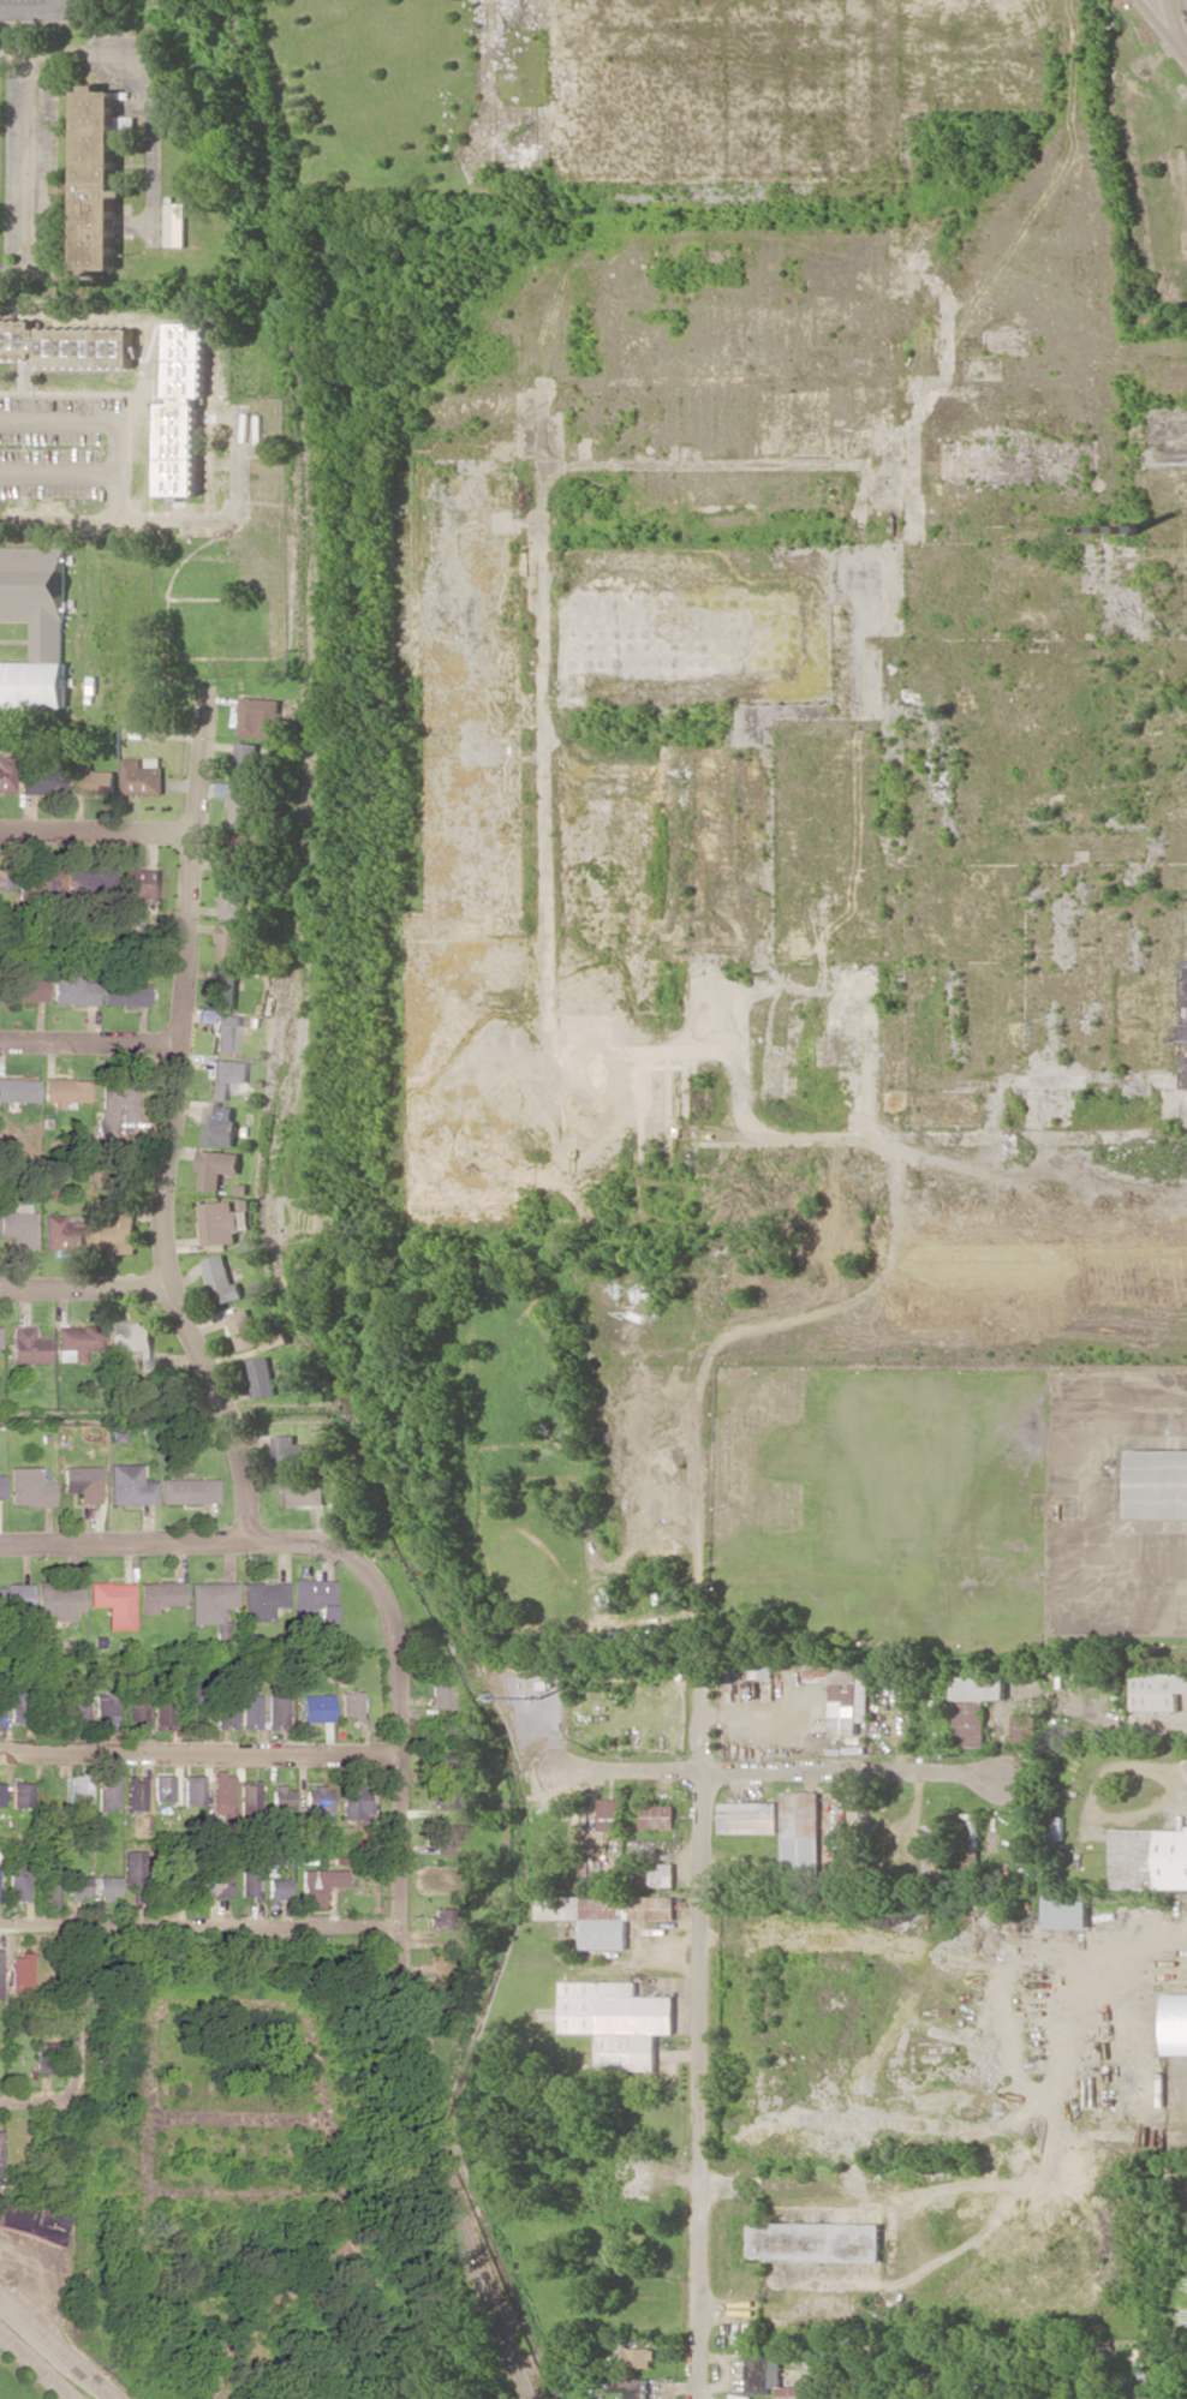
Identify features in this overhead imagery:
road: (1181, 12)
road: (36, 14)
road: (1162, 26)
road: (143, 82)
road: (31, 168)
building: (101, 175)
building: (177, 223)
building: (66, 345)
building: (184, 408)
road: (107, 423)
road: (60, 475)
road: (168, 527)
building: (32, 625)
building: (260, 717)
building: (775, 718)
building: (247, 762)
building: (6, 772)
building: (143, 775)
building: (91, 777)
building: (42, 780)
building: (243, 807)
road: (96, 830)
building: (239, 852)
building: (2, 881)
building: (141, 883)
building: (235, 897)
building: (231, 942)
building: (72, 987)
building: (228, 987)
building: (22, 989)
building: (124, 992)
road: (730, 1007)
building: (225, 1031)
road: (87, 1048)
building: (226, 1076)
building: (18, 1090)
building: (115, 1106)
road: (171, 1123)
building: (220, 1124)
road: (1032, 1133)
building: (217, 1166)
building: (222, 1222)
building: (18, 1225)
building: (119, 1231)
building: (60, 1233)
building: (222, 1279)
road: (85, 1287)
building: (244, 1329)
building: (133, 1341)
building: (76, 1342)
building: (28, 1345)
building: (262, 1377)
building: (286, 1449)
building: (82, 1482)
building: (1158, 1482)
building: (129, 1485)
building: (0, 1486)
building: (28, 1487)
building: (186, 1490)
building: (302, 1493)
building: (159, 1595)
building: (14, 1597)
building: (311, 1598)
building: (260, 1599)
building: (58, 1600)
building: (208, 1601)
building: (113, 1603)
building: (756, 1671)
building: (1159, 1690)
building: (439, 1695)
building: (849, 1699)
building: (192, 1703)
building: (222, 1705)
building: (348, 1705)
building: (16, 1706)
building: (976, 1706)
building: (315, 1707)
building: (102, 1708)
building: (135, 1708)
building: (162, 1708)
building: (76, 1711)
building: (249, 1711)
building: (274, 1712)
building: (0, 1715)
building: (457, 1726)
building: (1025, 1727)
road: (199, 1750)
building: (447, 1756)
road: (781, 1766)
building: (161, 1788)
building: (77, 1789)
building: (191, 1789)
building: (106, 1791)
building: (0, 1792)
building: (133, 1792)
building: (19, 1794)
building: (441, 1796)
building: (279, 1797)
building: (219, 1798)
building: (246, 1798)
building: (316, 1801)
building: (352, 1802)
road: (399, 1807)
building: (610, 1814)
building: (658, 1816)
building: (748, 1816)
building: (1057, 1828)
building: (971, 1830)
building: (800, 1831)
building: (935, 1832)
building: (445, 1837)
building: (1149, 1857)
building: (932, 1862)
building: (135, 1873)
building: (657, 1874)
building: (217, 1876)
building: (247, 1881)
building: (17, 1884)
building: (77, 1885)
building: (106, 1885)
building: (317, 1885)
building: (50, 1886)
building: (276, 1888)
building: (1067, 1909)
building: (607, 1915)
building: (440, 1917)
road: (196, 1929)
building: (18, 1970)
road: (74, 2015)
building: (619, 2021)
road: (148, 2022)
building: (1175, 2023)
road: (700, 2042)
building: (40, 2061)
road: (35, 2100)
road: (234, 2119)
building: (30, 2220)
building: (817, 2240)
road: (374, 2298)
road: (59, 2344)
building: (639, 2357)
road: (37, 2364)
building: (770, 2374)
building: (631, 2386)
road: (64, 2395)

